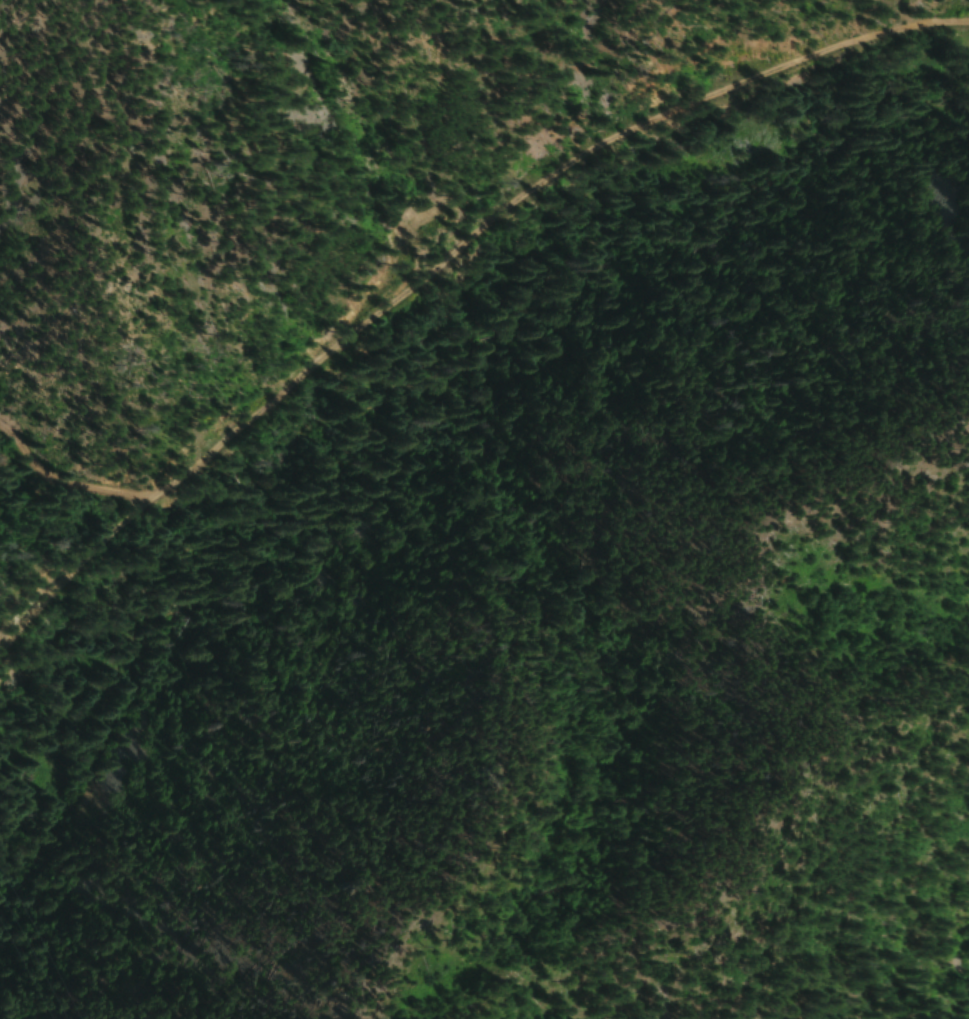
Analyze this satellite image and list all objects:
road: (445, 274)

